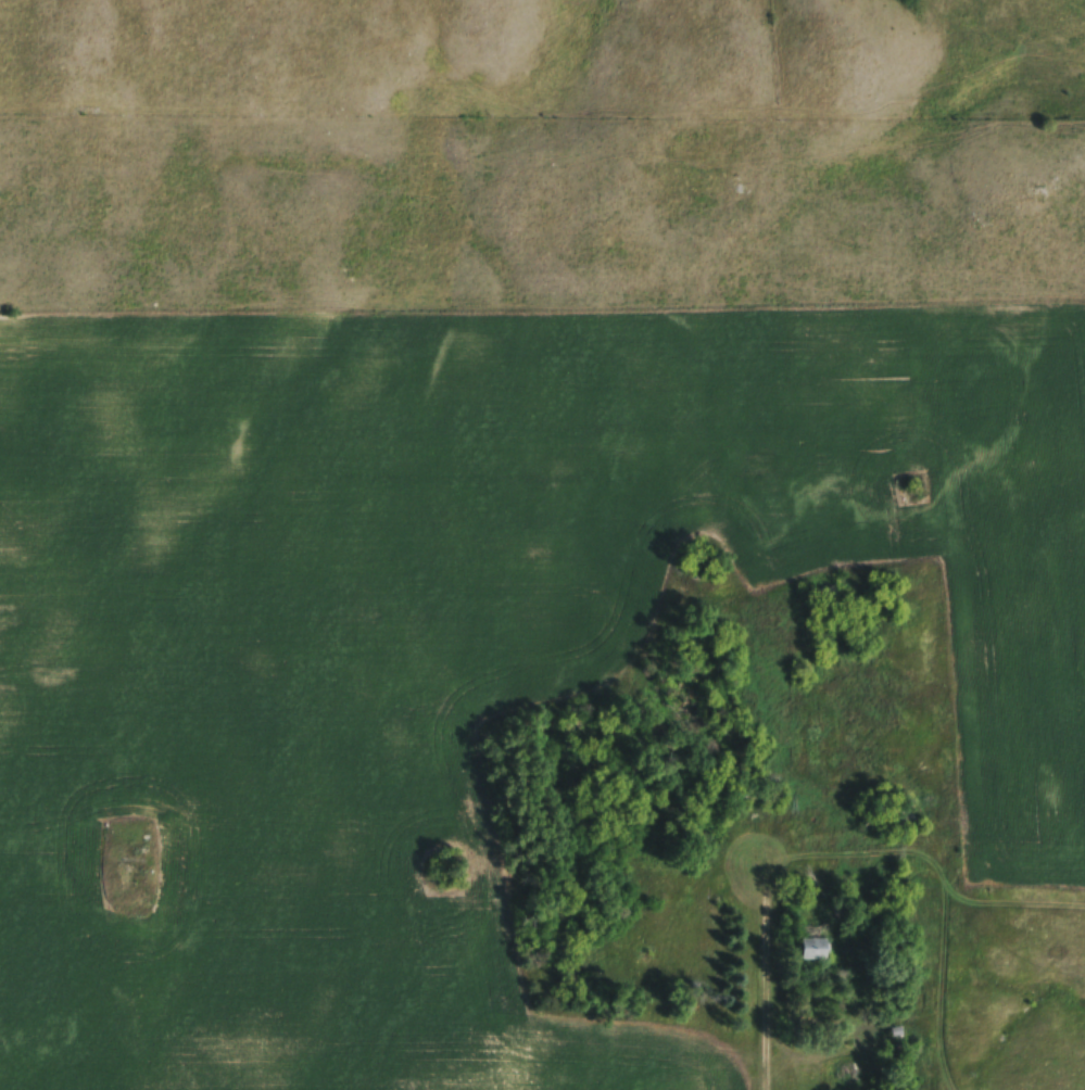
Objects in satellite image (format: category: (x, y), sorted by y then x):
building: (883, 828)
building: (816, 950)

